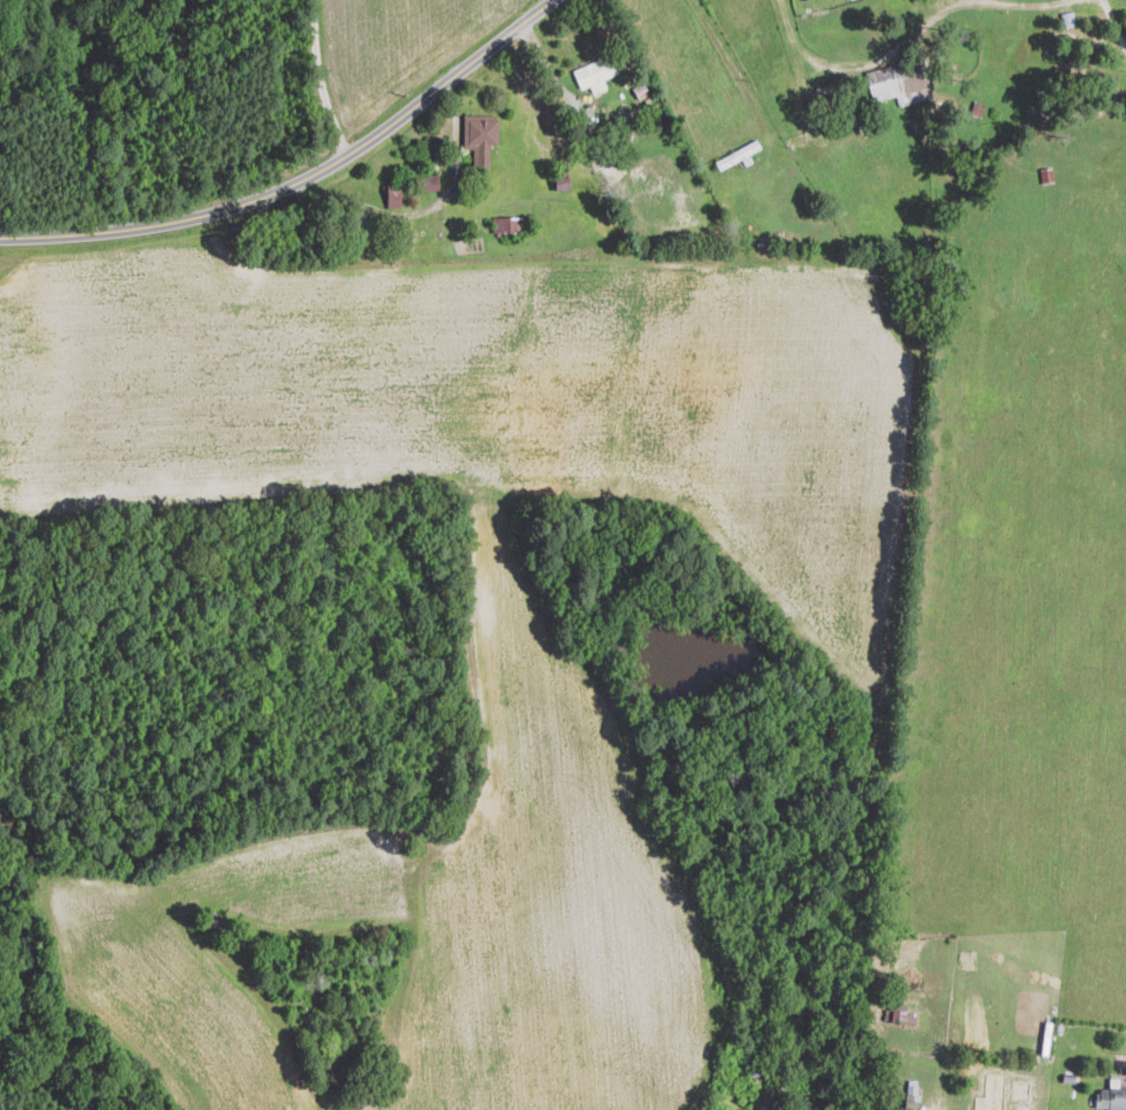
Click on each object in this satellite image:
road: (1019, 2)
road: (730, 66)
building: (594, 71)
road: (321, 78)
building: (899, 81)
building: (479, 138)
building: (736, 155)
road: (302, 179)
building: (426, 183)
building: (394, 194)
building: (509, 225)

